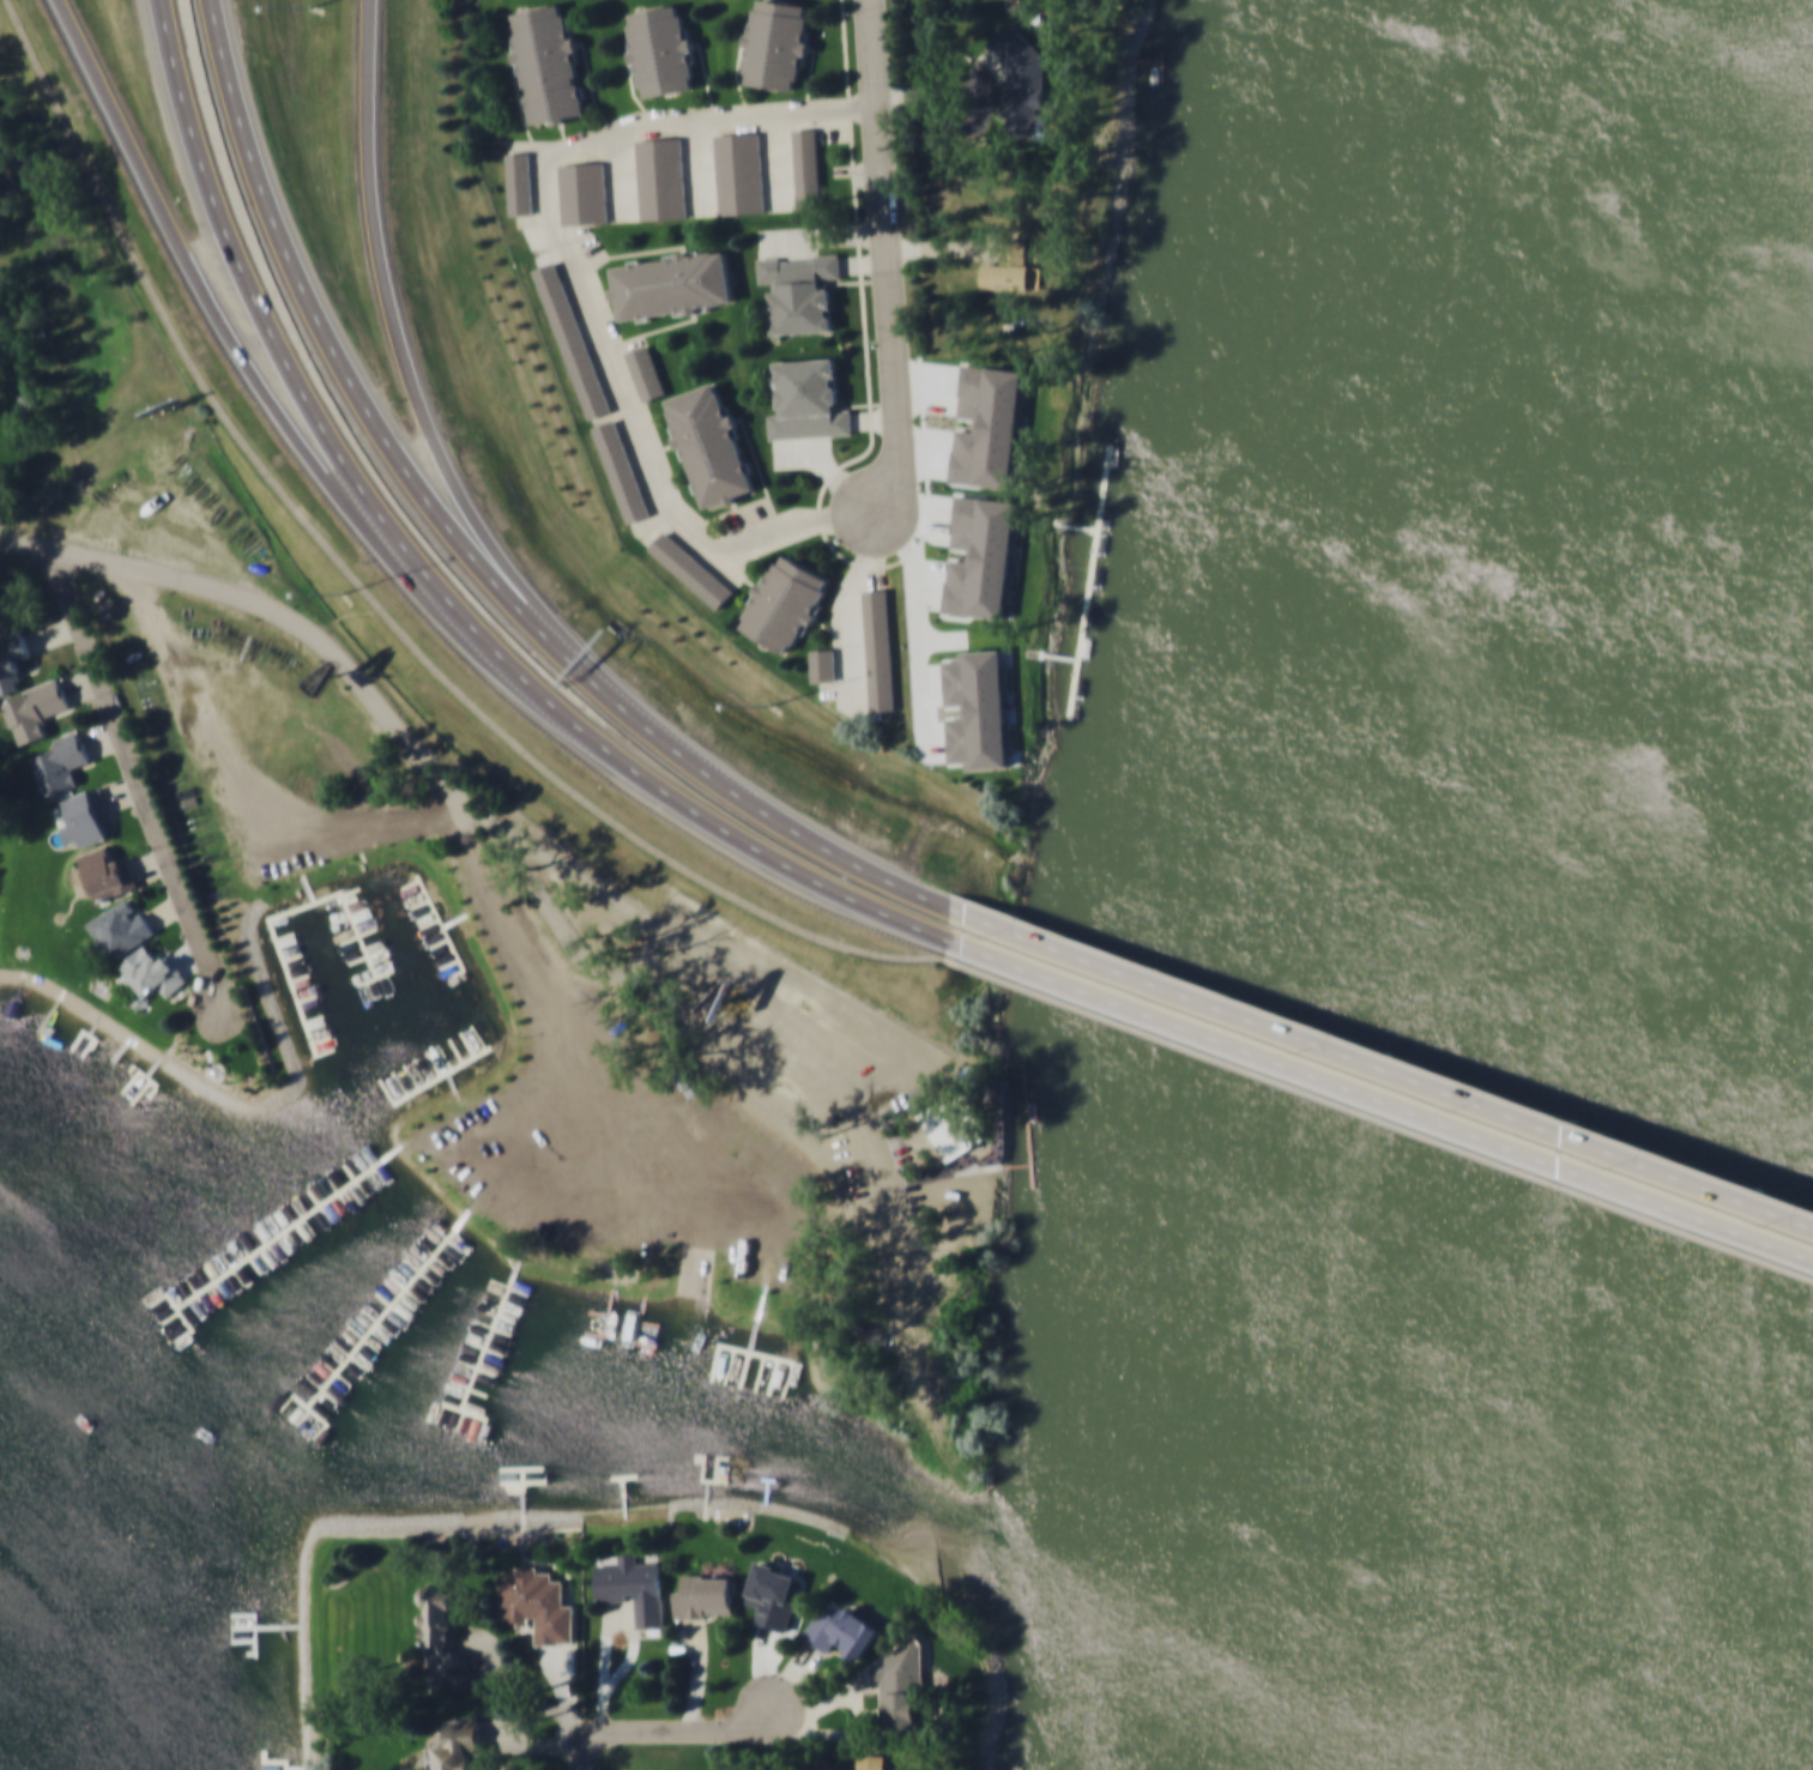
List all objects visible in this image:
street lamp: (314, 8)
building: (775, 42)
building: (660, 48)
road: (872, 52)
building: (546, 64)
building: (1023, 80)
building: (806, 167)
building: (739, 171)
building: (660, 176)
building: (519, 182)
building: (582, 191)
road: (576, 255)
building: (1010, 274)
building: (671, 283)
building: (799, 289)
road: (222, 315)
road: (890, 334)
building: (572, 338)
road: (406, 364)
building: (645, 371)
building: (808, 399)
building: (709, 445)
building: (621, 469)
road: (469, 551)
building: (690, 568)
road: (431, 579)
road: (367, 593)
street lamp: (343, 596)
building: (785, 602)
building: (878, 651)
building: (12, 657)
building: (823, 663)
street lamp: (770, 706)
building: (35, 708)
building: (62, 761)
road: (132, 762)
road: (457, 784)
building: (90, 814)
building: (108, 871)
river: (1790, 882)
building: (120, 926)
street lamp: (985, 936)
building: (153, 972)
road: (1291, 1031)
street lamp: (1304, 1050)
road: (1294, 1063)
building: (969, 1073)
street lamp: (1463, 1107)
road: (1378, 1111)
building: (950, 1124)
street lamp: (1624, 1165)
road: (1717, 1183)
road: (1722, 1216)
street lamp: (1783, 1222)
building: (634, 1587)
building: (705, 1594)
building: (538, 1601)
building: (442, 1629)
building: (842, 1629)
building: (900, 1689)
road: (677, 1734)
building: (458, 1744)
building: (870, 1765)

